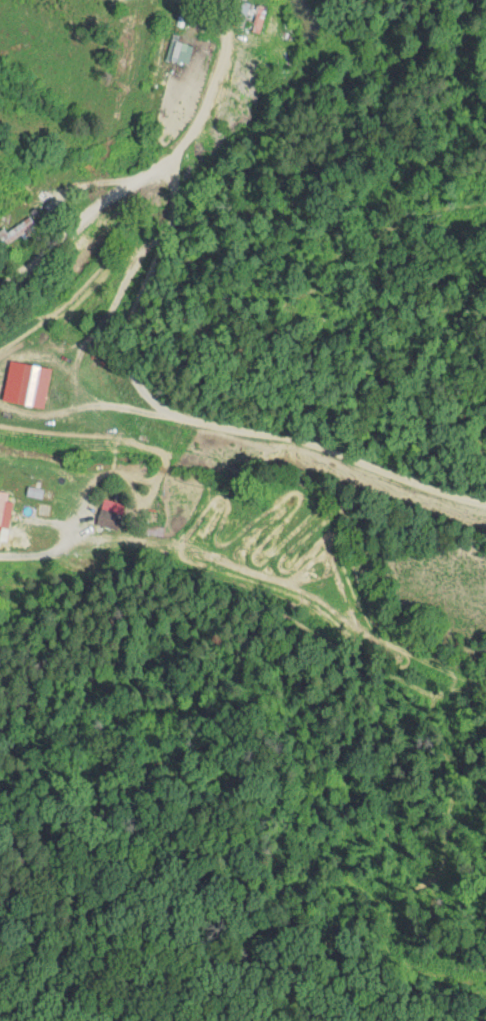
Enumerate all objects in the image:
road: (128, 166)

